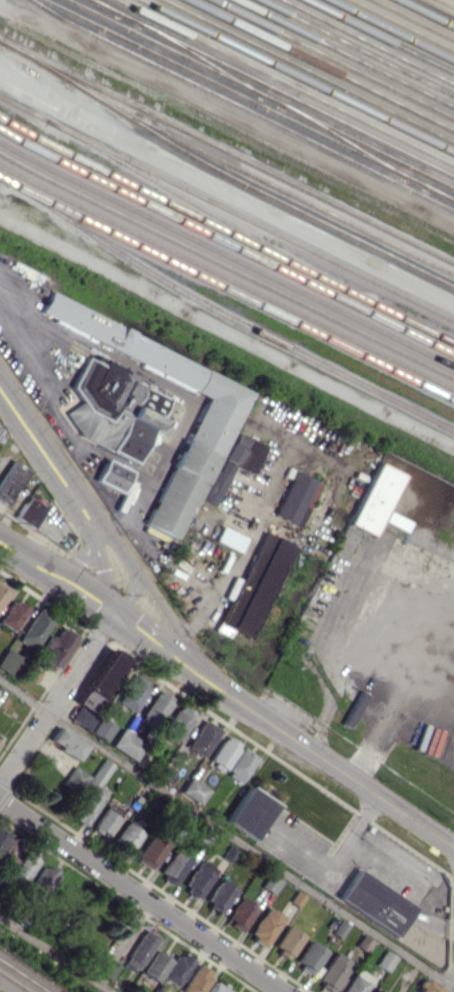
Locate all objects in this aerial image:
railway: (446, 3)
railway: (105, 6)
railway: (435, 8)
railway: (425, 14)
railway: (413, 19)
railway: (401, 25)
railway: (389, 31)
railway: (378, 36)
railway: (367, 42)
railway: (354, 48)
railway: (173, 52)
railway: (343, 53)
railway: (198, 58)
railway: (330, 60)
railway: (318, 65)
railway: (308, 70)
railway: (295, 76)
railway: (284, 82)
railway: (272, 88)
railway: (248, 100)
railway: (240, 108)
road: (227, 116)
railway: (341, 140)
railway: (367, 146)
railway: (227, 151)
railway: (224, 163)
railway: (0, 166)
railway: (255, 189)
railway: (439, 194)
railway: (226, 208)
railway: (205, 210)
railway: (226, 231)
road: (328, 235)
railway: (226, 242)
railway: (226, 254)
railway: (226, 266)
railway: (227, 277)
railway: (227, 287)
railway: (224, 315)
road: (226, 335)
road: (43, 379)
building: (113, 407)
road: (68, 457)
road: (47, 458)
building: (196, 458)
building: (233, 462)
building: (112, 475)
building: (297, 498)
building: (377, 501)
building: (29, 511)
road: (94, 535)
building: (229, 538)
road: (76, 563)
road: (231, 574)
road: (56, 577)
road: (103, 578)
building: (256, 590)
building: (3, 592)
road: (127, 596)
road: (154, 599)
building: (13, 614)
traffic signals: (113, 614)
building: (35, 627)
road: (159, 647)
building: (54, 650)
building: (8, 660)
building: (104, 674)
road: (395, 689)
building: (133, 693)
road: (56, 698)
building: (86, 700)
building: (155, 708)
building: (82, 717)
building: (178, 722)
building: (102, 728)
building: (202, 738)
building: (0, 742)
building: (68, 743)
building: (127, 744)
building: (224, 752)
road: (330, 761)
building: (241, 764)
building: (76, 778)
building: (194, 790)
building: (92, 792)
building: (250, 812)
building: (107, 819)
road: (227, 832)
building: (3, 837)
building: (127, 837)
building: (152, 851)
building: (11, 852)
road: (337, 853)
building: (174, 867)
building: (24, 868)
building: (199, 879)
road: (410, 881)
building: (40, 883)
building: (272, 883)
road: (143, 894)
building: (220, 896)
building: (298, 898)
building: (376, 902)
building: (242, 913)
building: (266, 925)
building: (340, 928)
building: (288, 941)
building: (141, 949)
road: (55, 953)
building: (311, 956)
building: (386, 960)
building: (156, 965)
building: (107, 967)
building: (177, 968)
building: (333, 972)
railway: (24, 975)
building: (197, 979)
railway: (15, 981)
building: (357, 984)
building: (219, 987)
building: (427, 987)
building: (375, 991)

